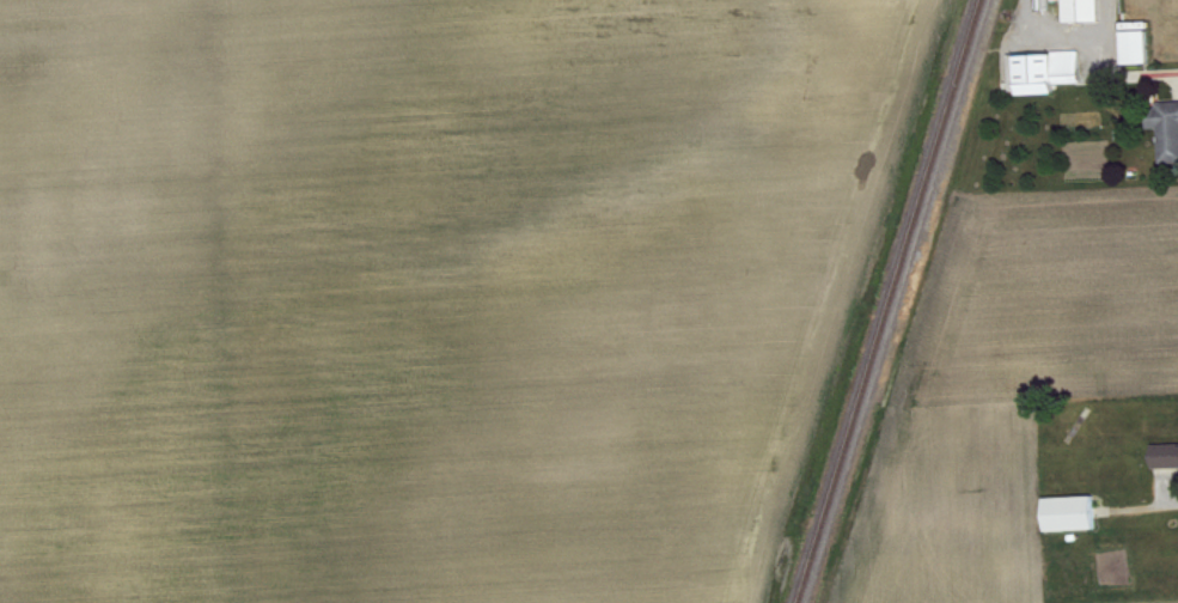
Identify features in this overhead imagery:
building: (1088, 13)
road: (1110, 32)
road: (1063, 33)
building: (1142, 54)
road: (1142, 73)
building: (1054, 78)
building: (1171, 138)
railway: (890, 301)
building: (1168, 462)
road: (1161, 512)
building: (1075, 519)

